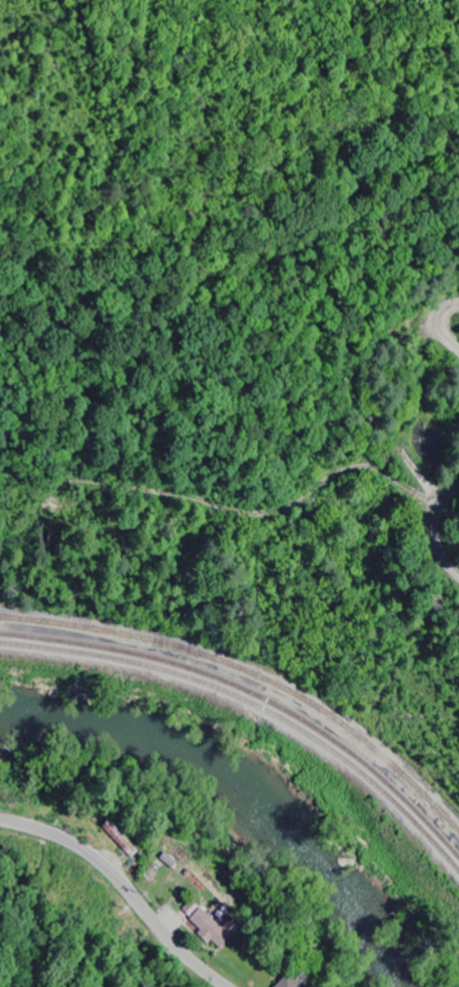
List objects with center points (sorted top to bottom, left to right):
railway: (253, 694)
railway: (255, 706)
river: (244, 797)
road: (123, 887)
building: (207, 927)
building: (285, 983)

